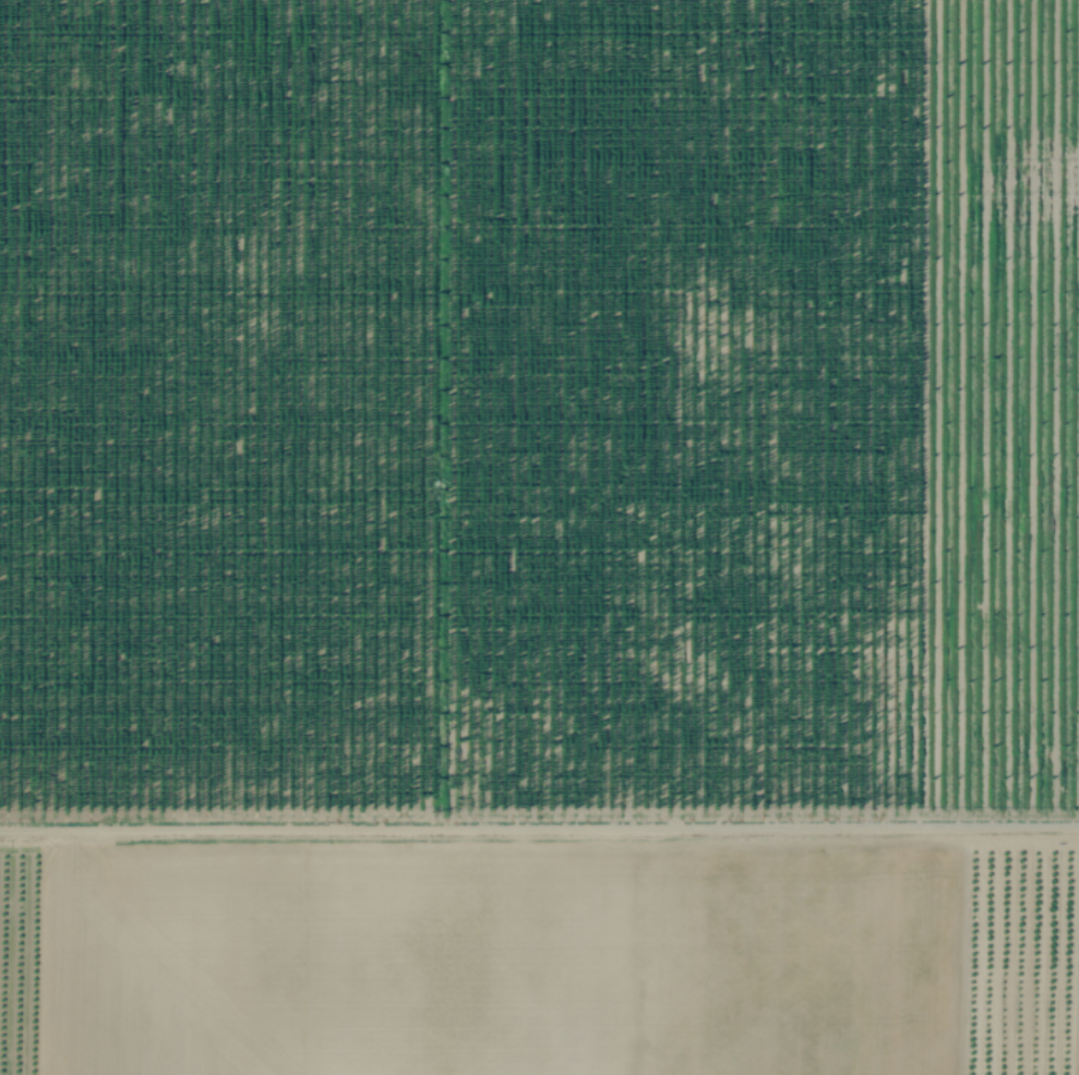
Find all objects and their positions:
crop: (542, 955)

